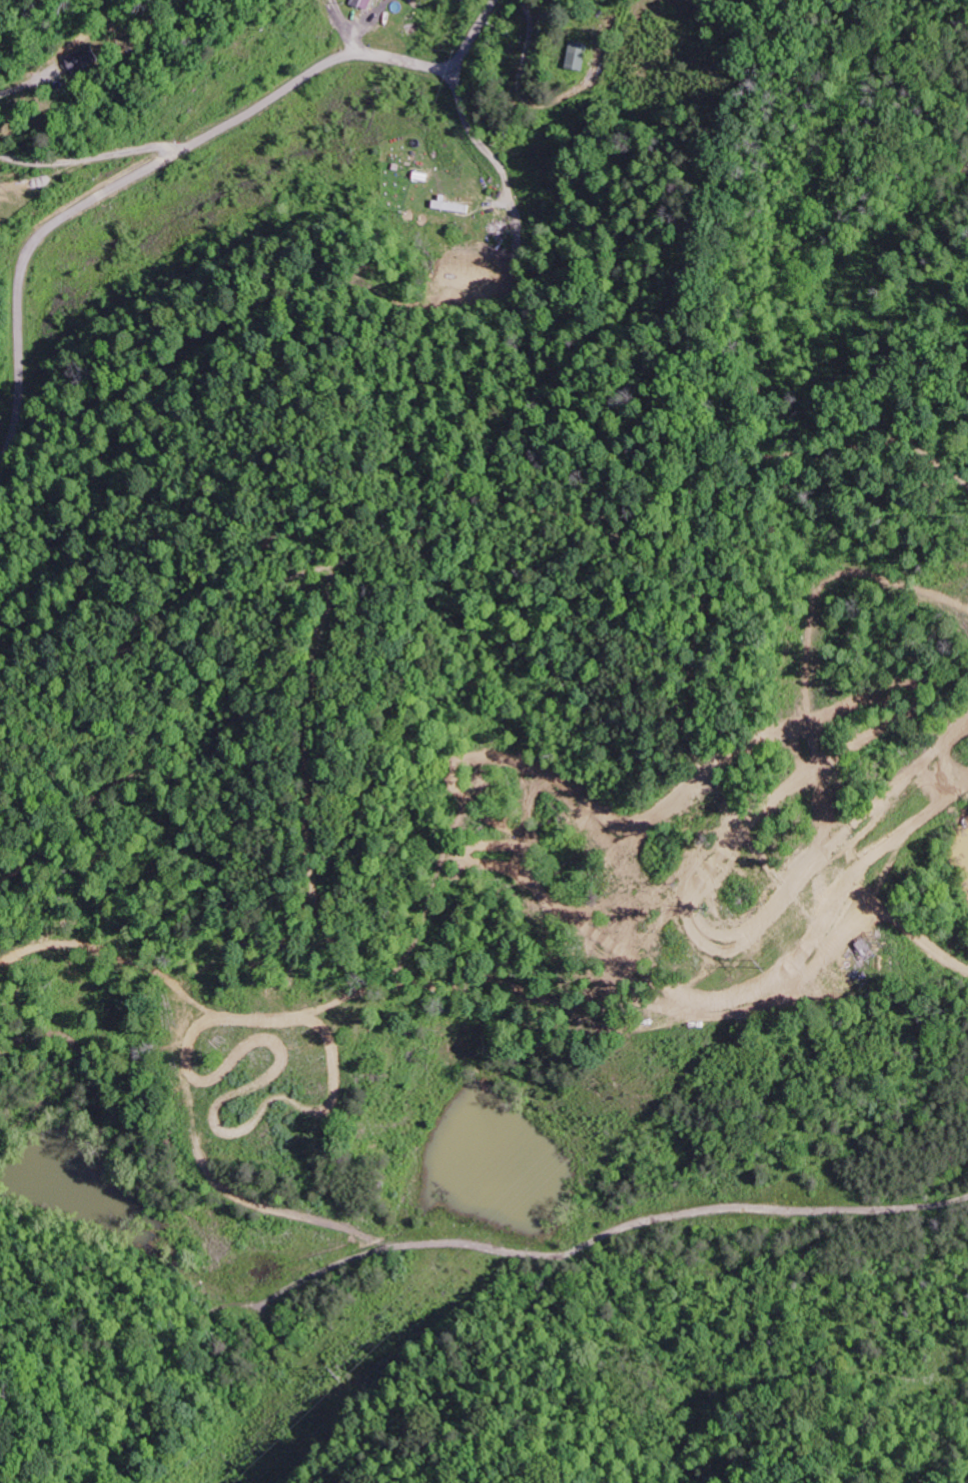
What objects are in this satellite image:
building: (365, 4)
building: (580, 55)
building: (86, 59)
building: (497, 219)
road: (299, 276)

